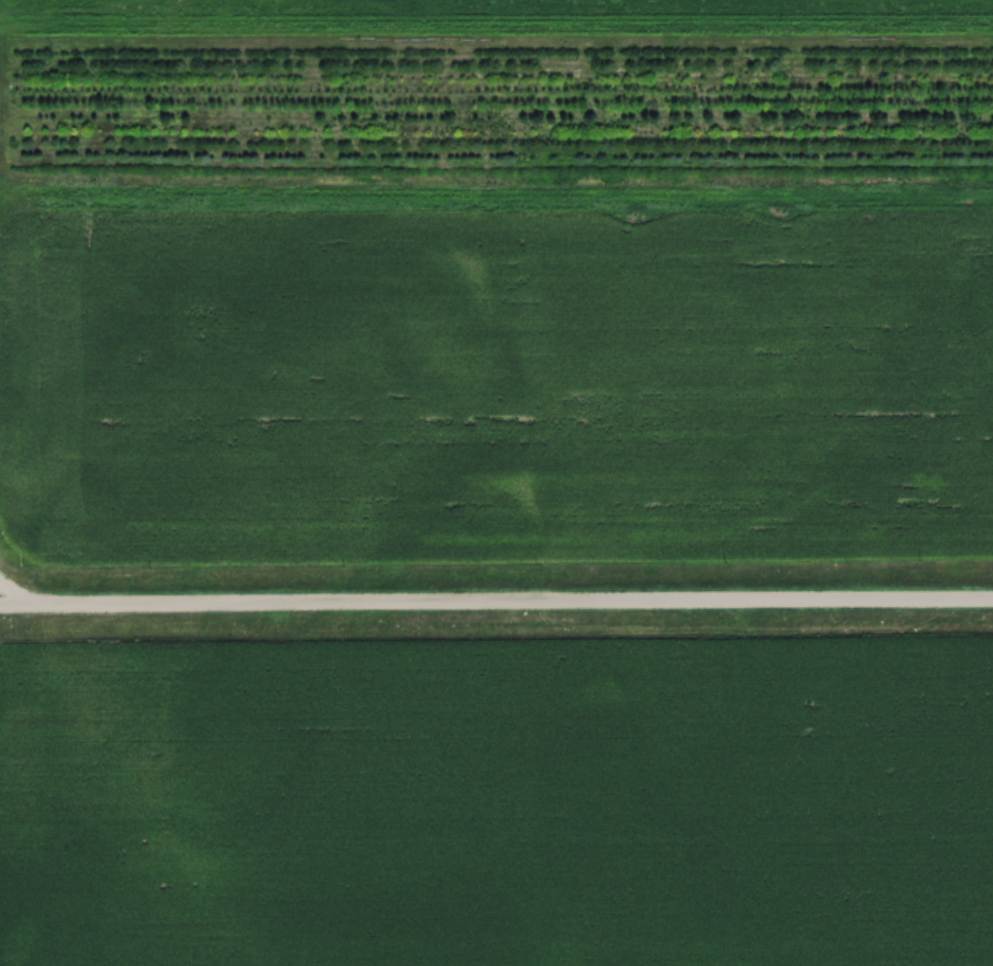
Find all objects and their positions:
road: (496, 597)

